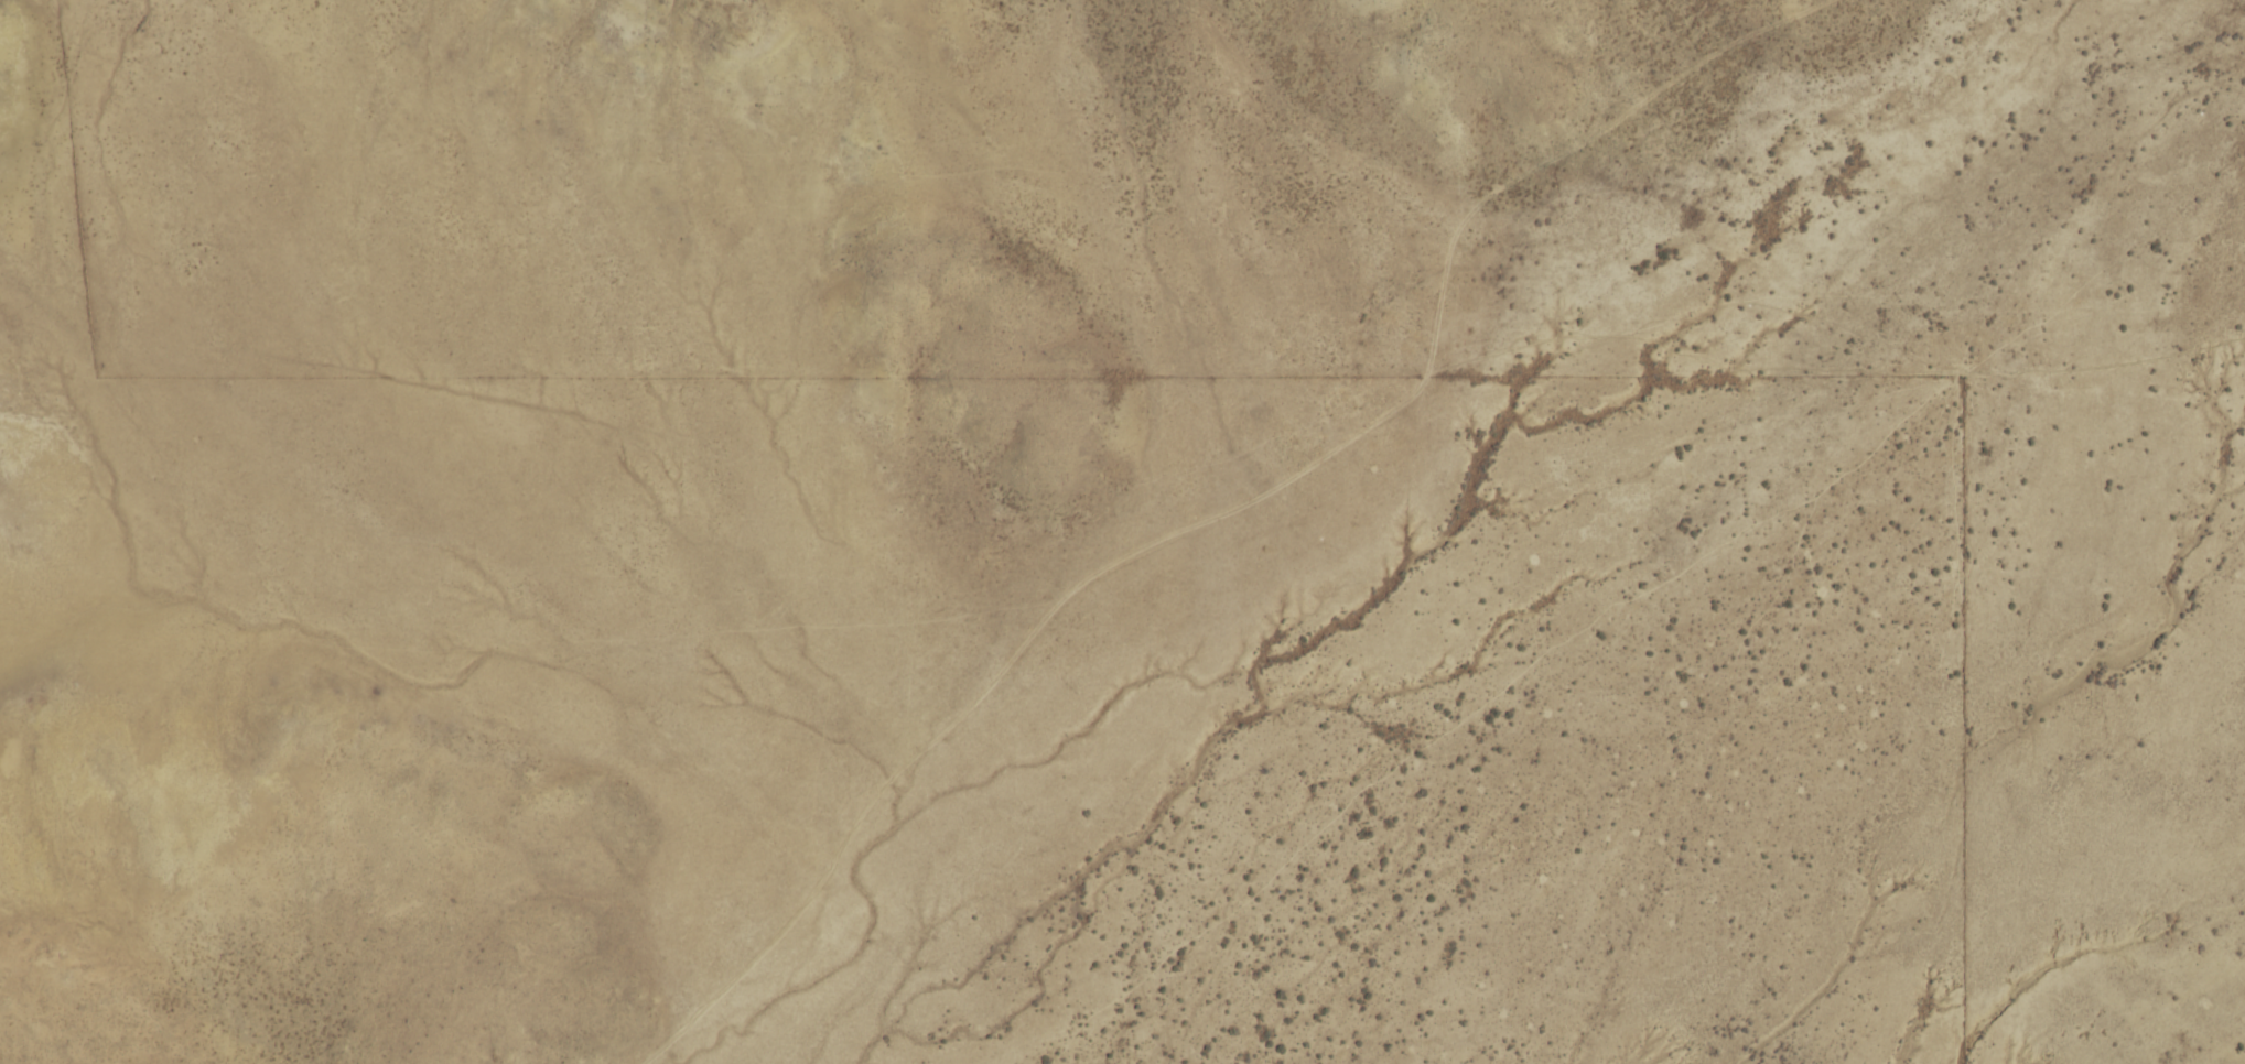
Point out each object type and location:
river: (1498, 615)

